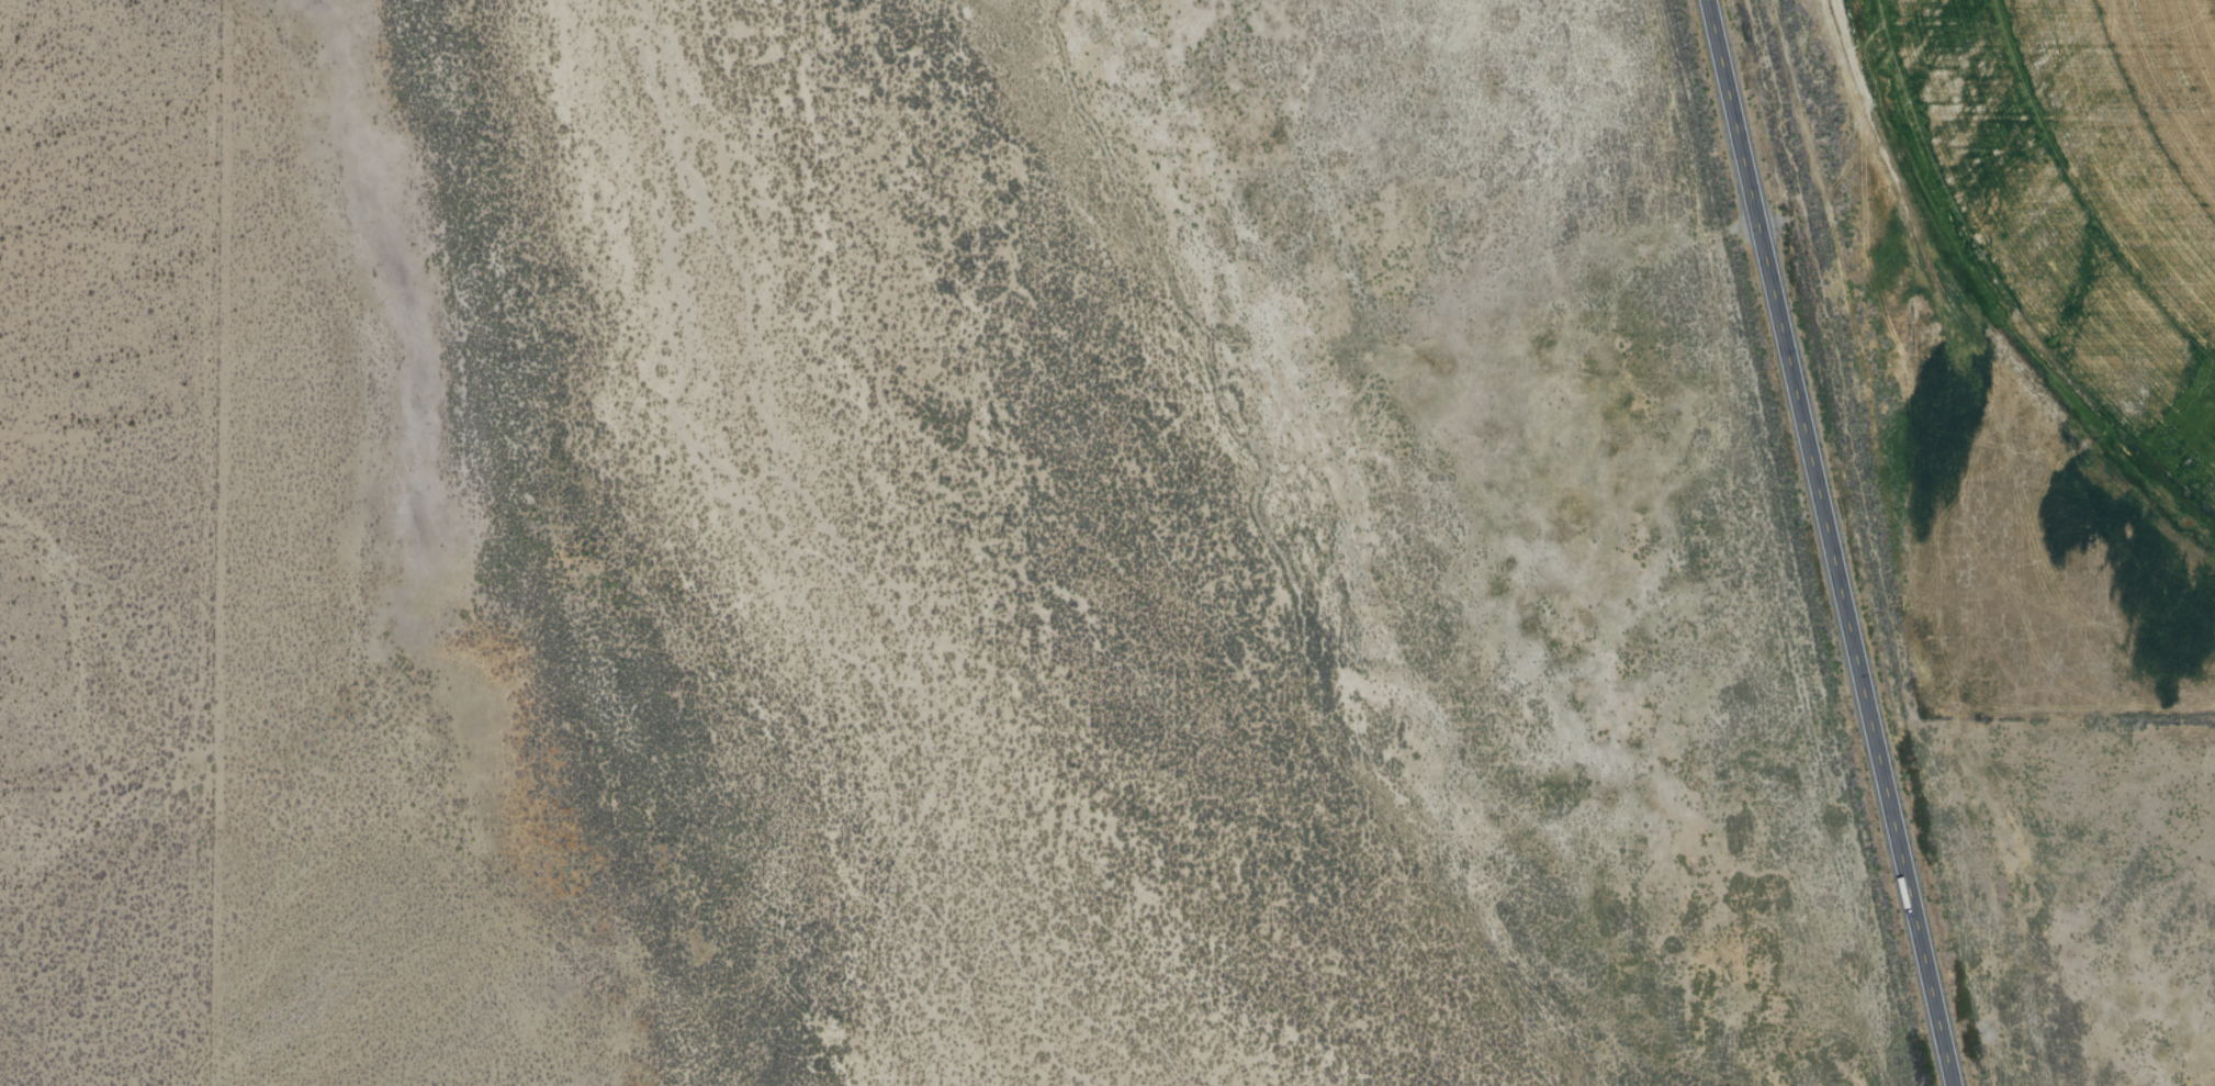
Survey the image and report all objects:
crop: (2060, 354)
road: (1831, 542)

